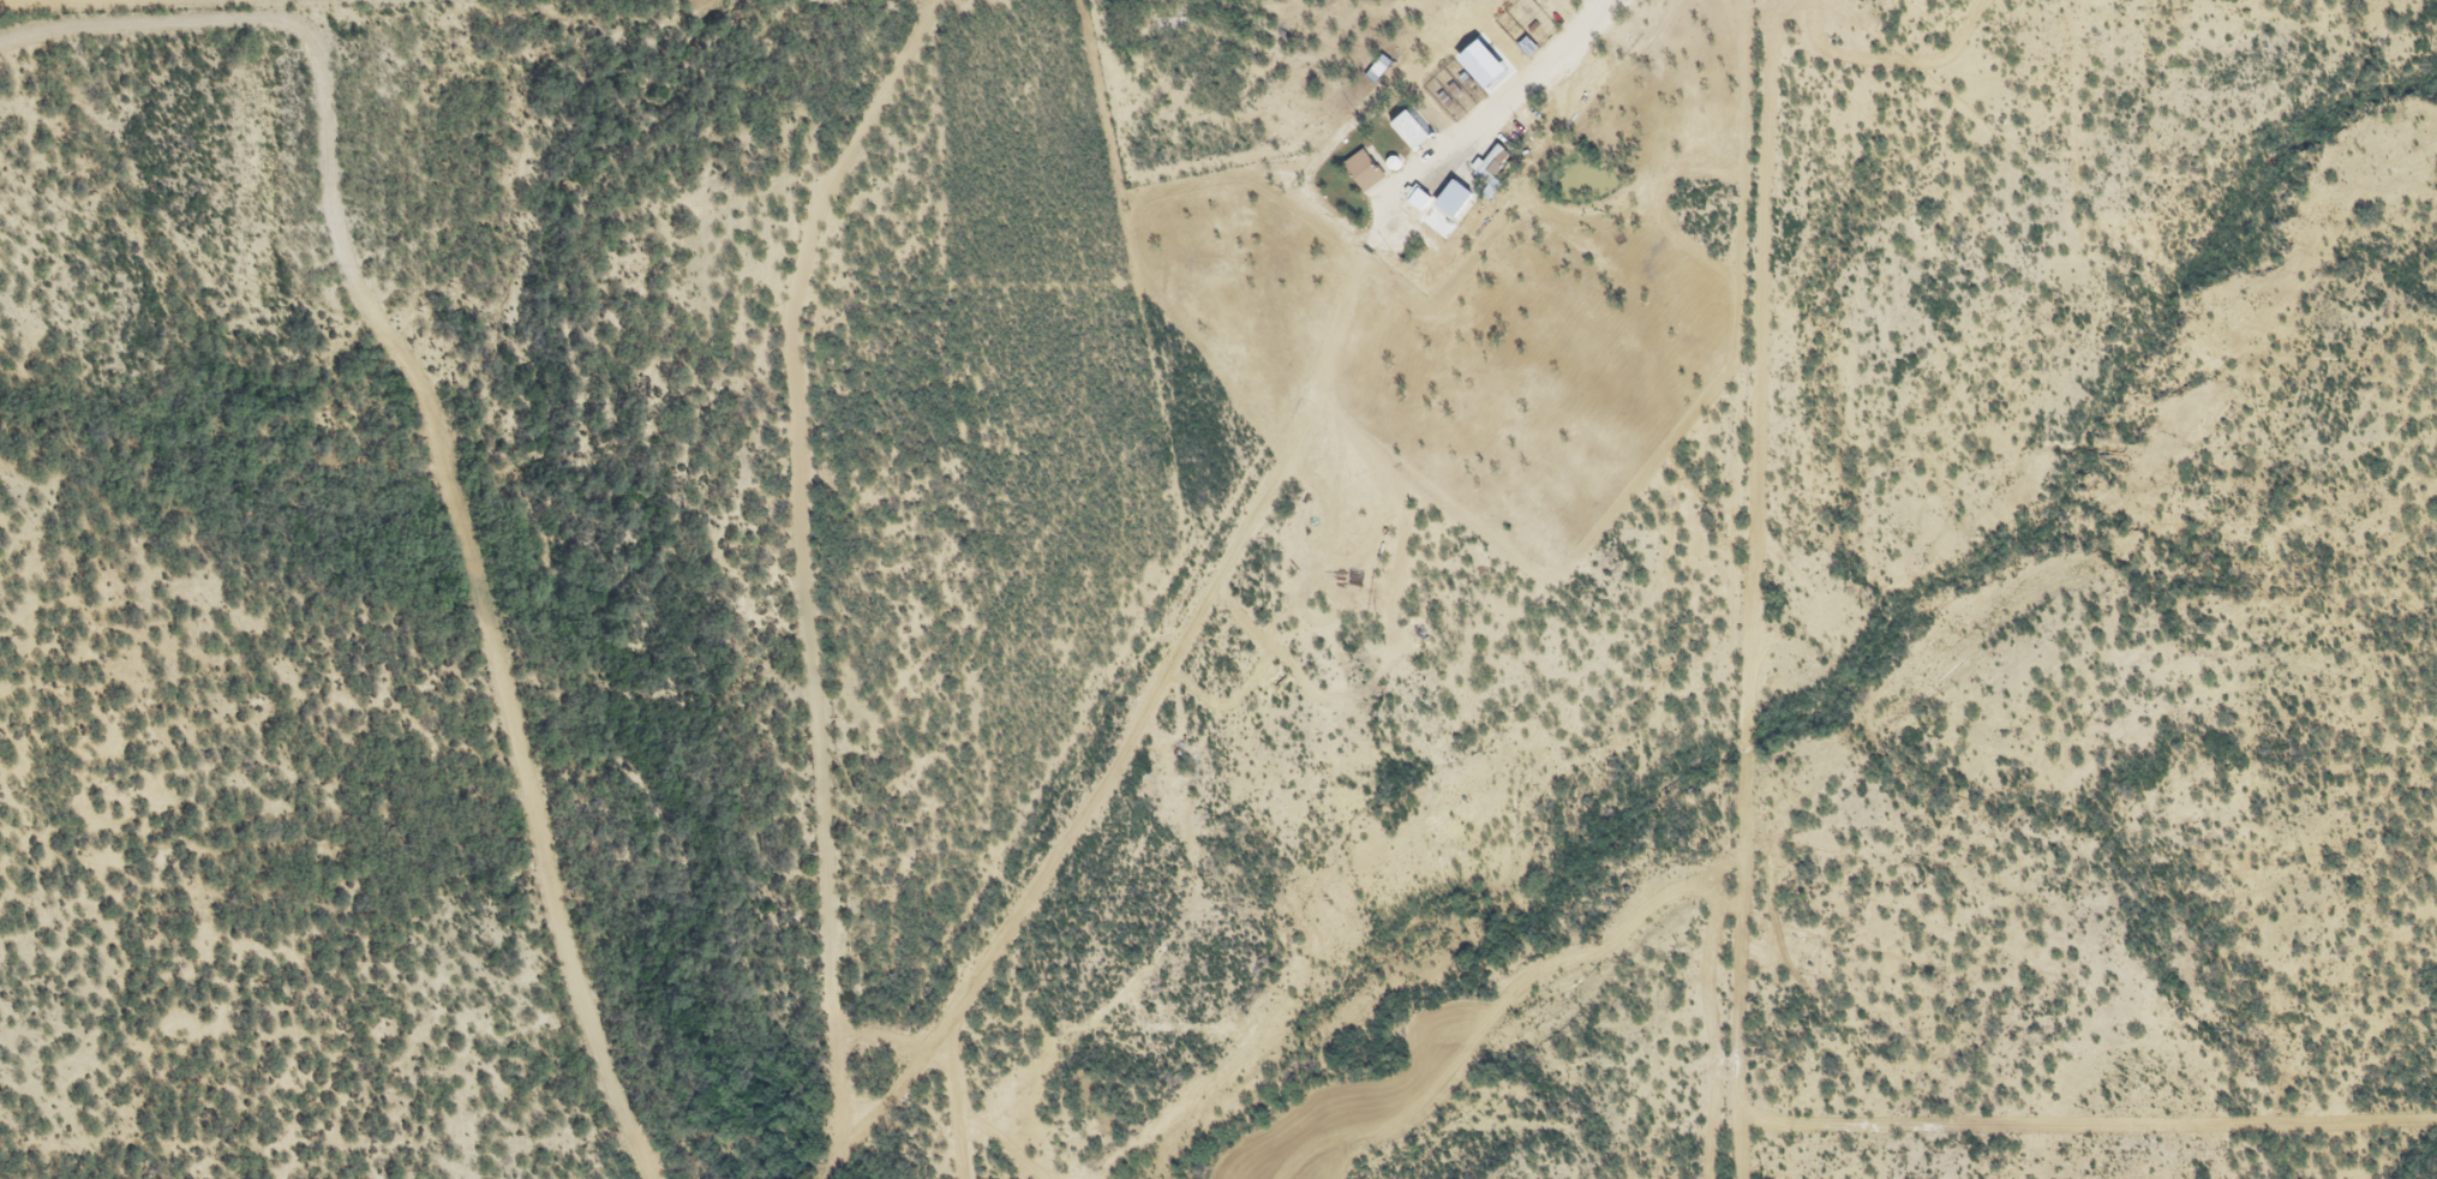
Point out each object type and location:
building: (1453, 192)
road: (335, 704)

